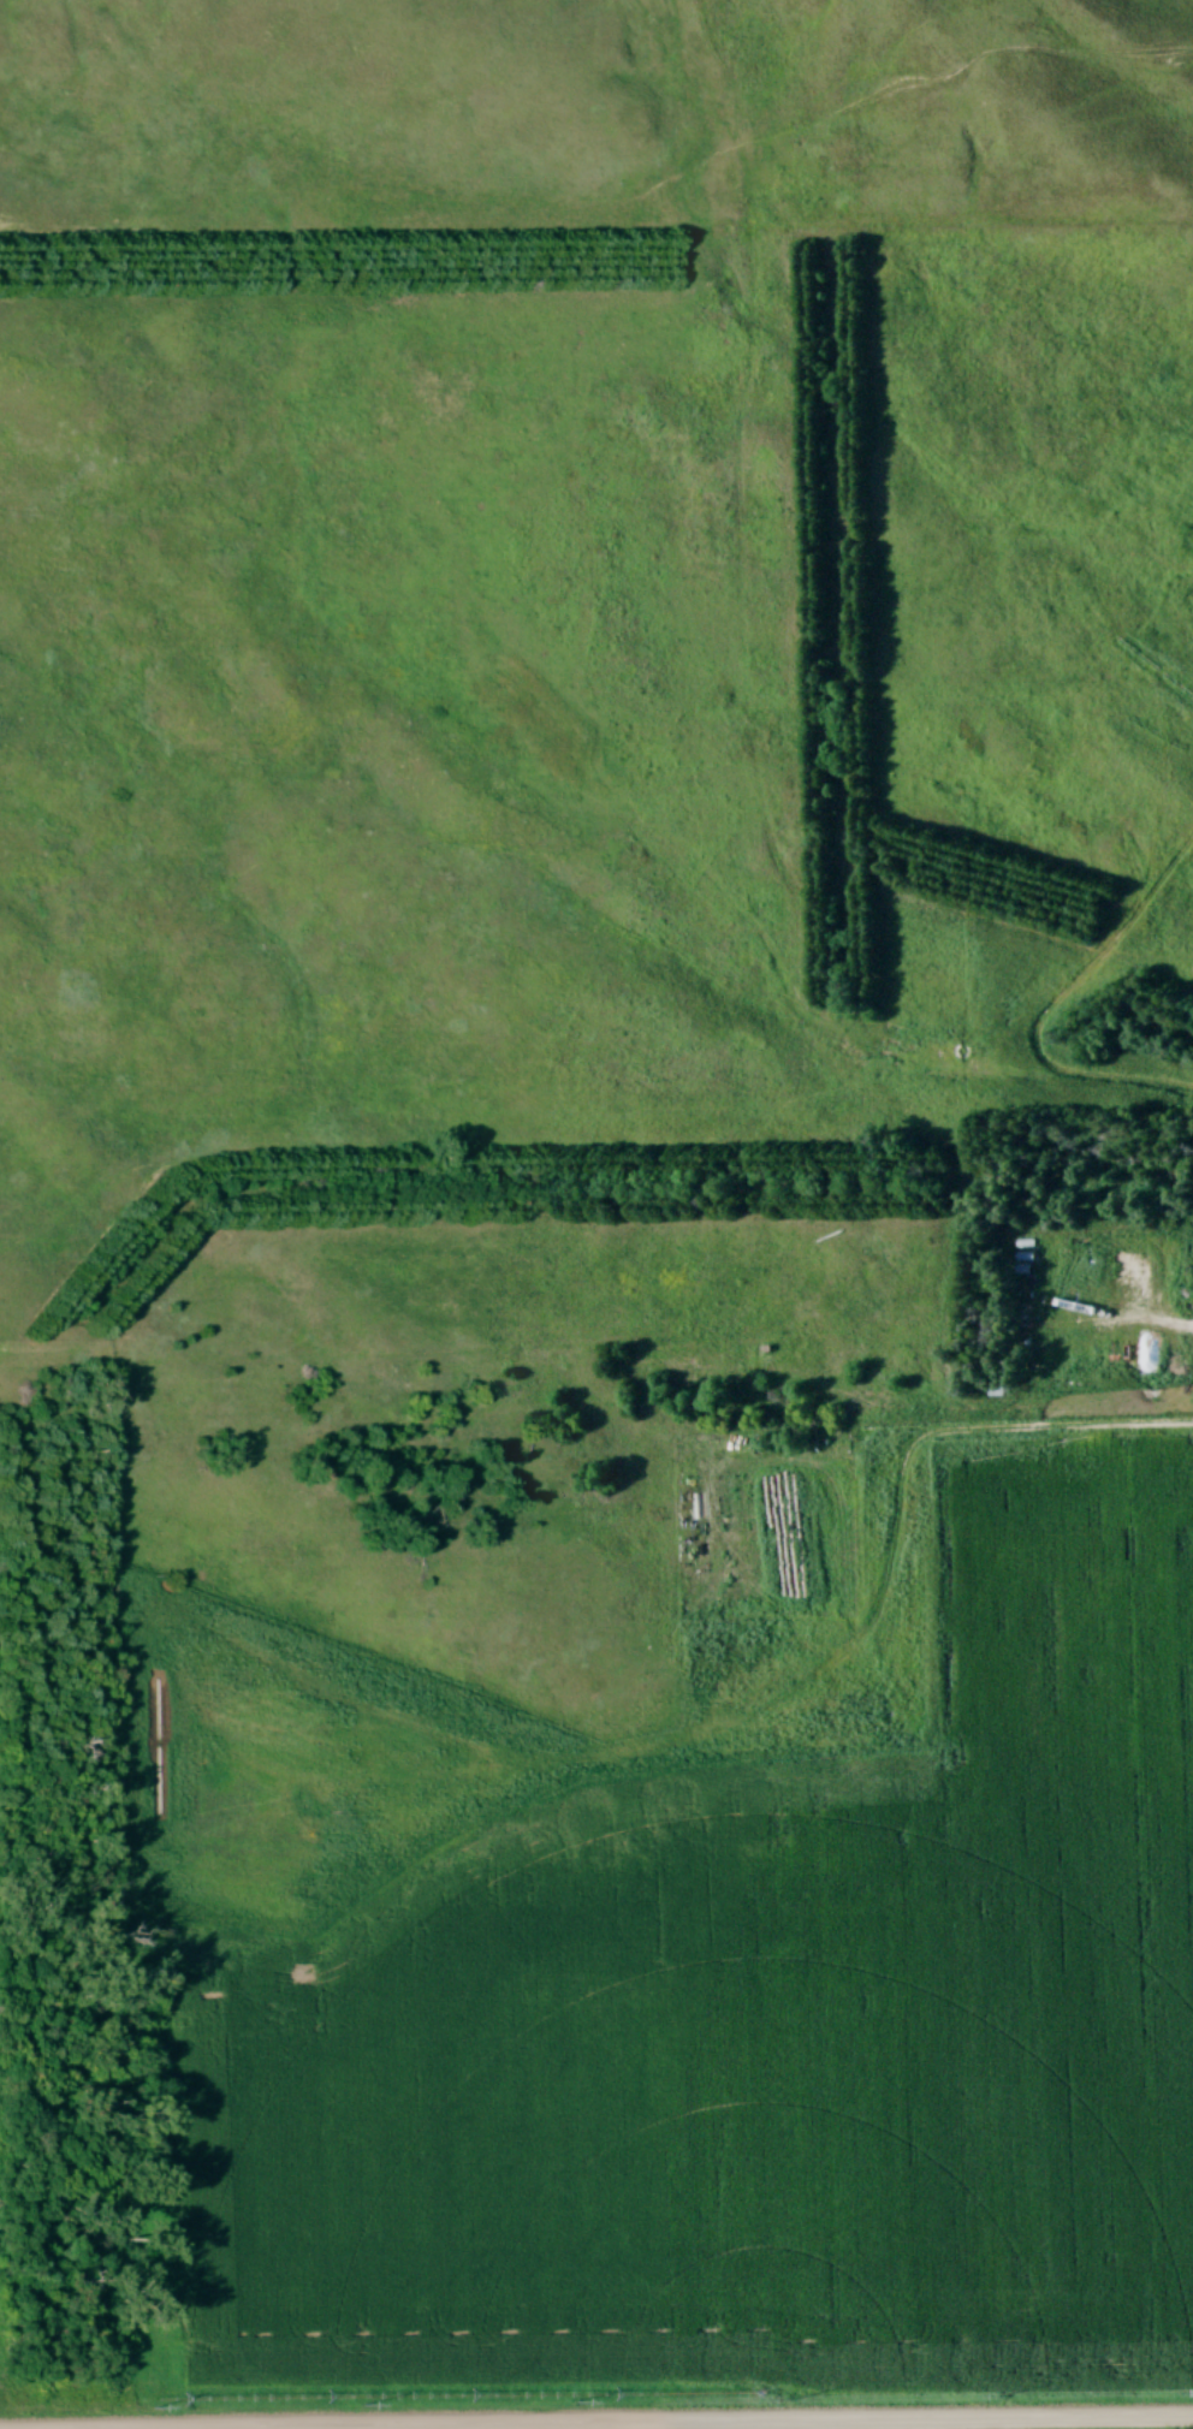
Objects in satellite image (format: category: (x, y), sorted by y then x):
building: (1027, 1261)
road: (720, 2422)

